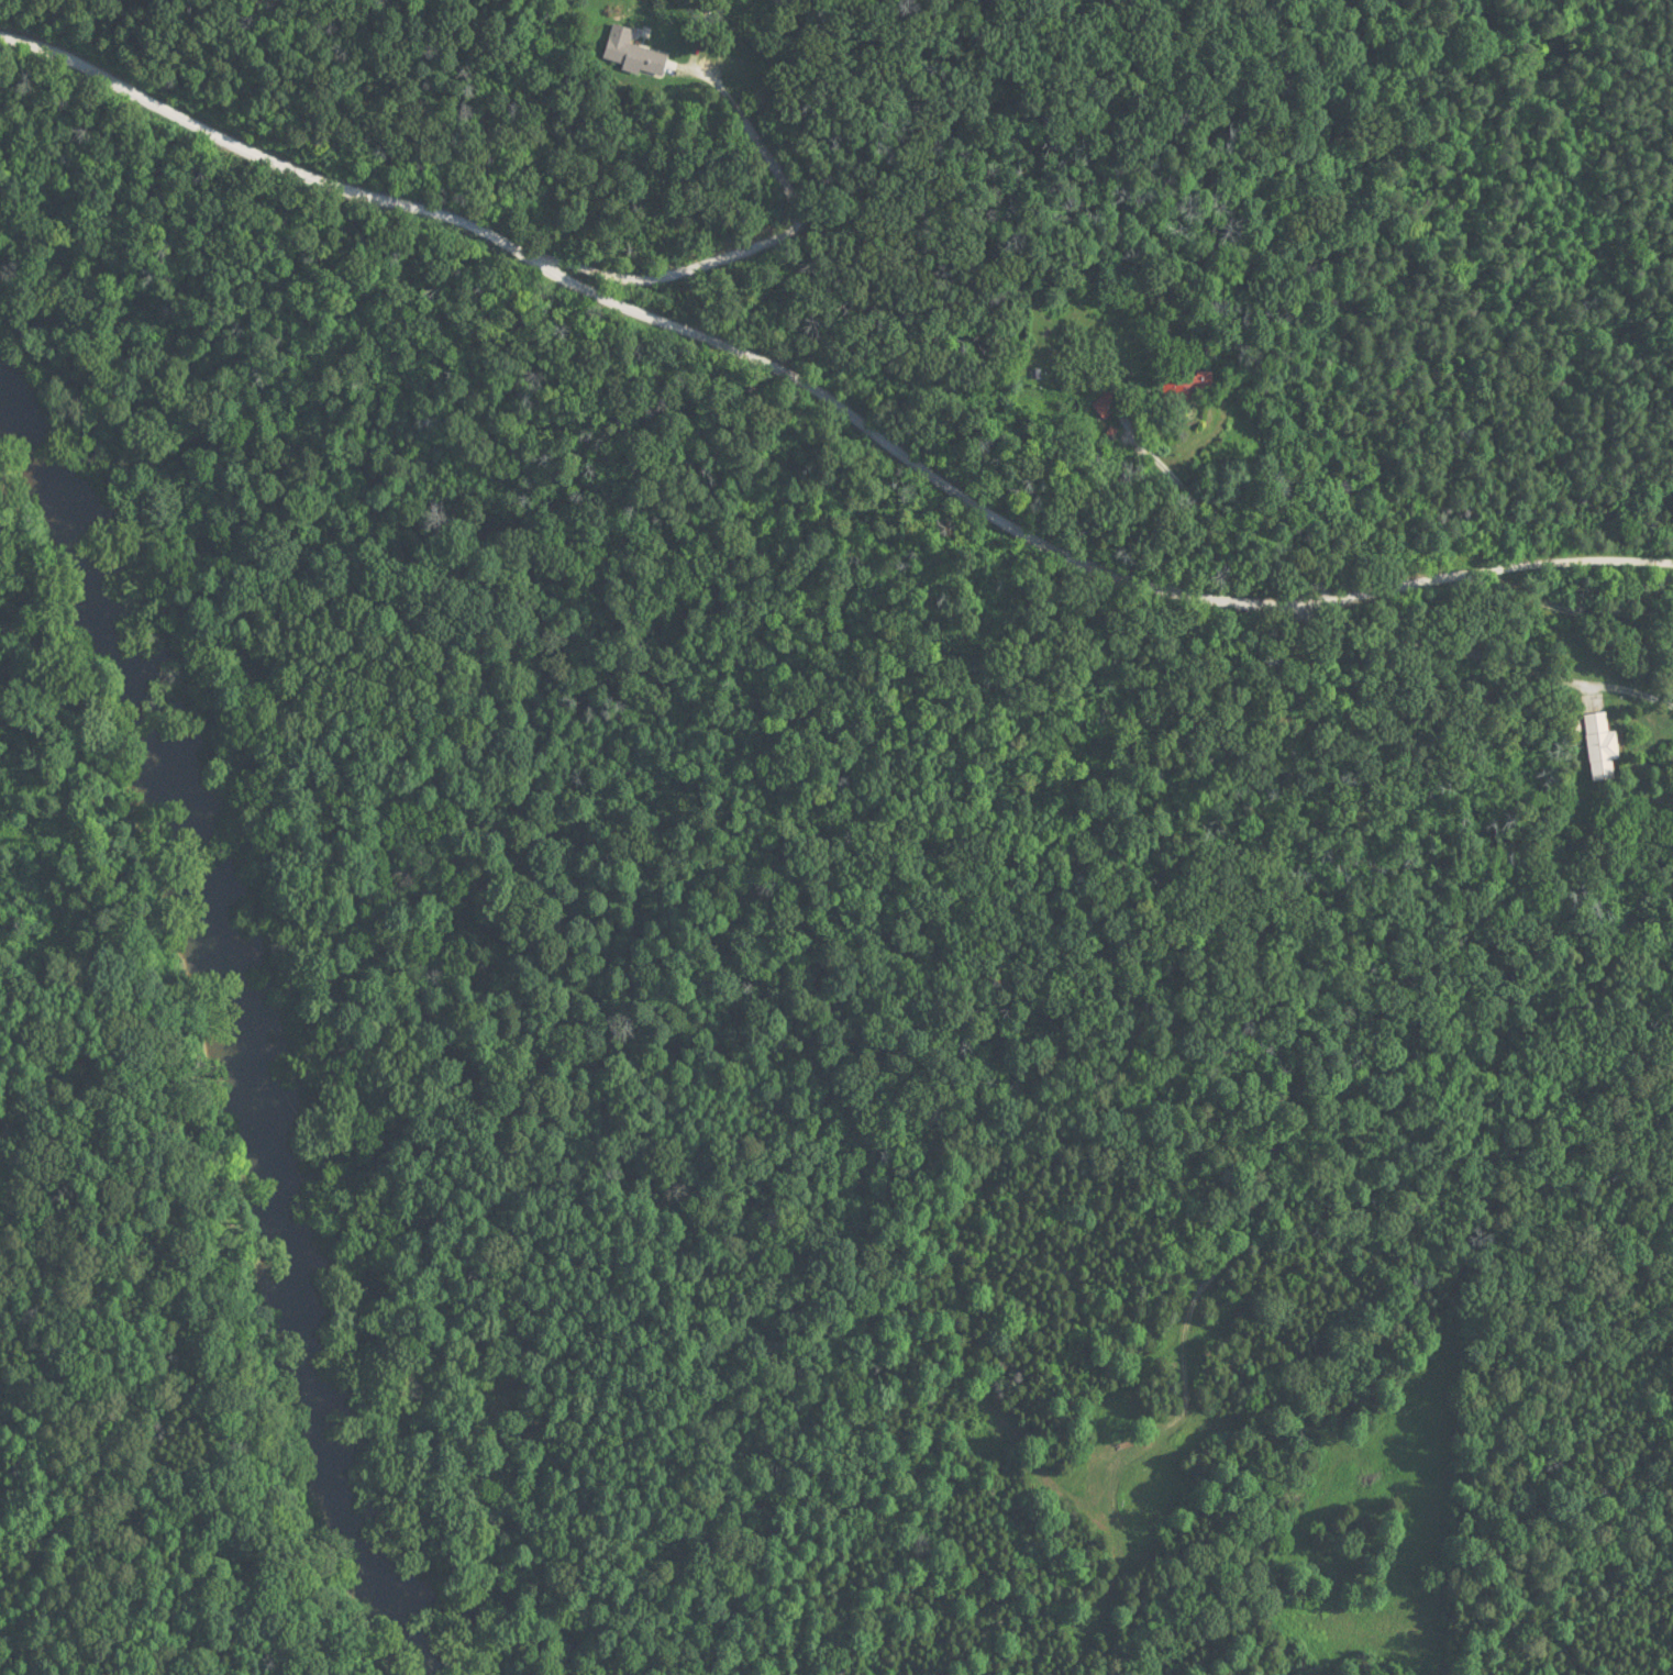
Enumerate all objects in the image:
building: (631, 54)
road: (757, 245)
road: (833, 387)
building: (1177, 389)
building: (1596, 748)
river: (198, 1053)

